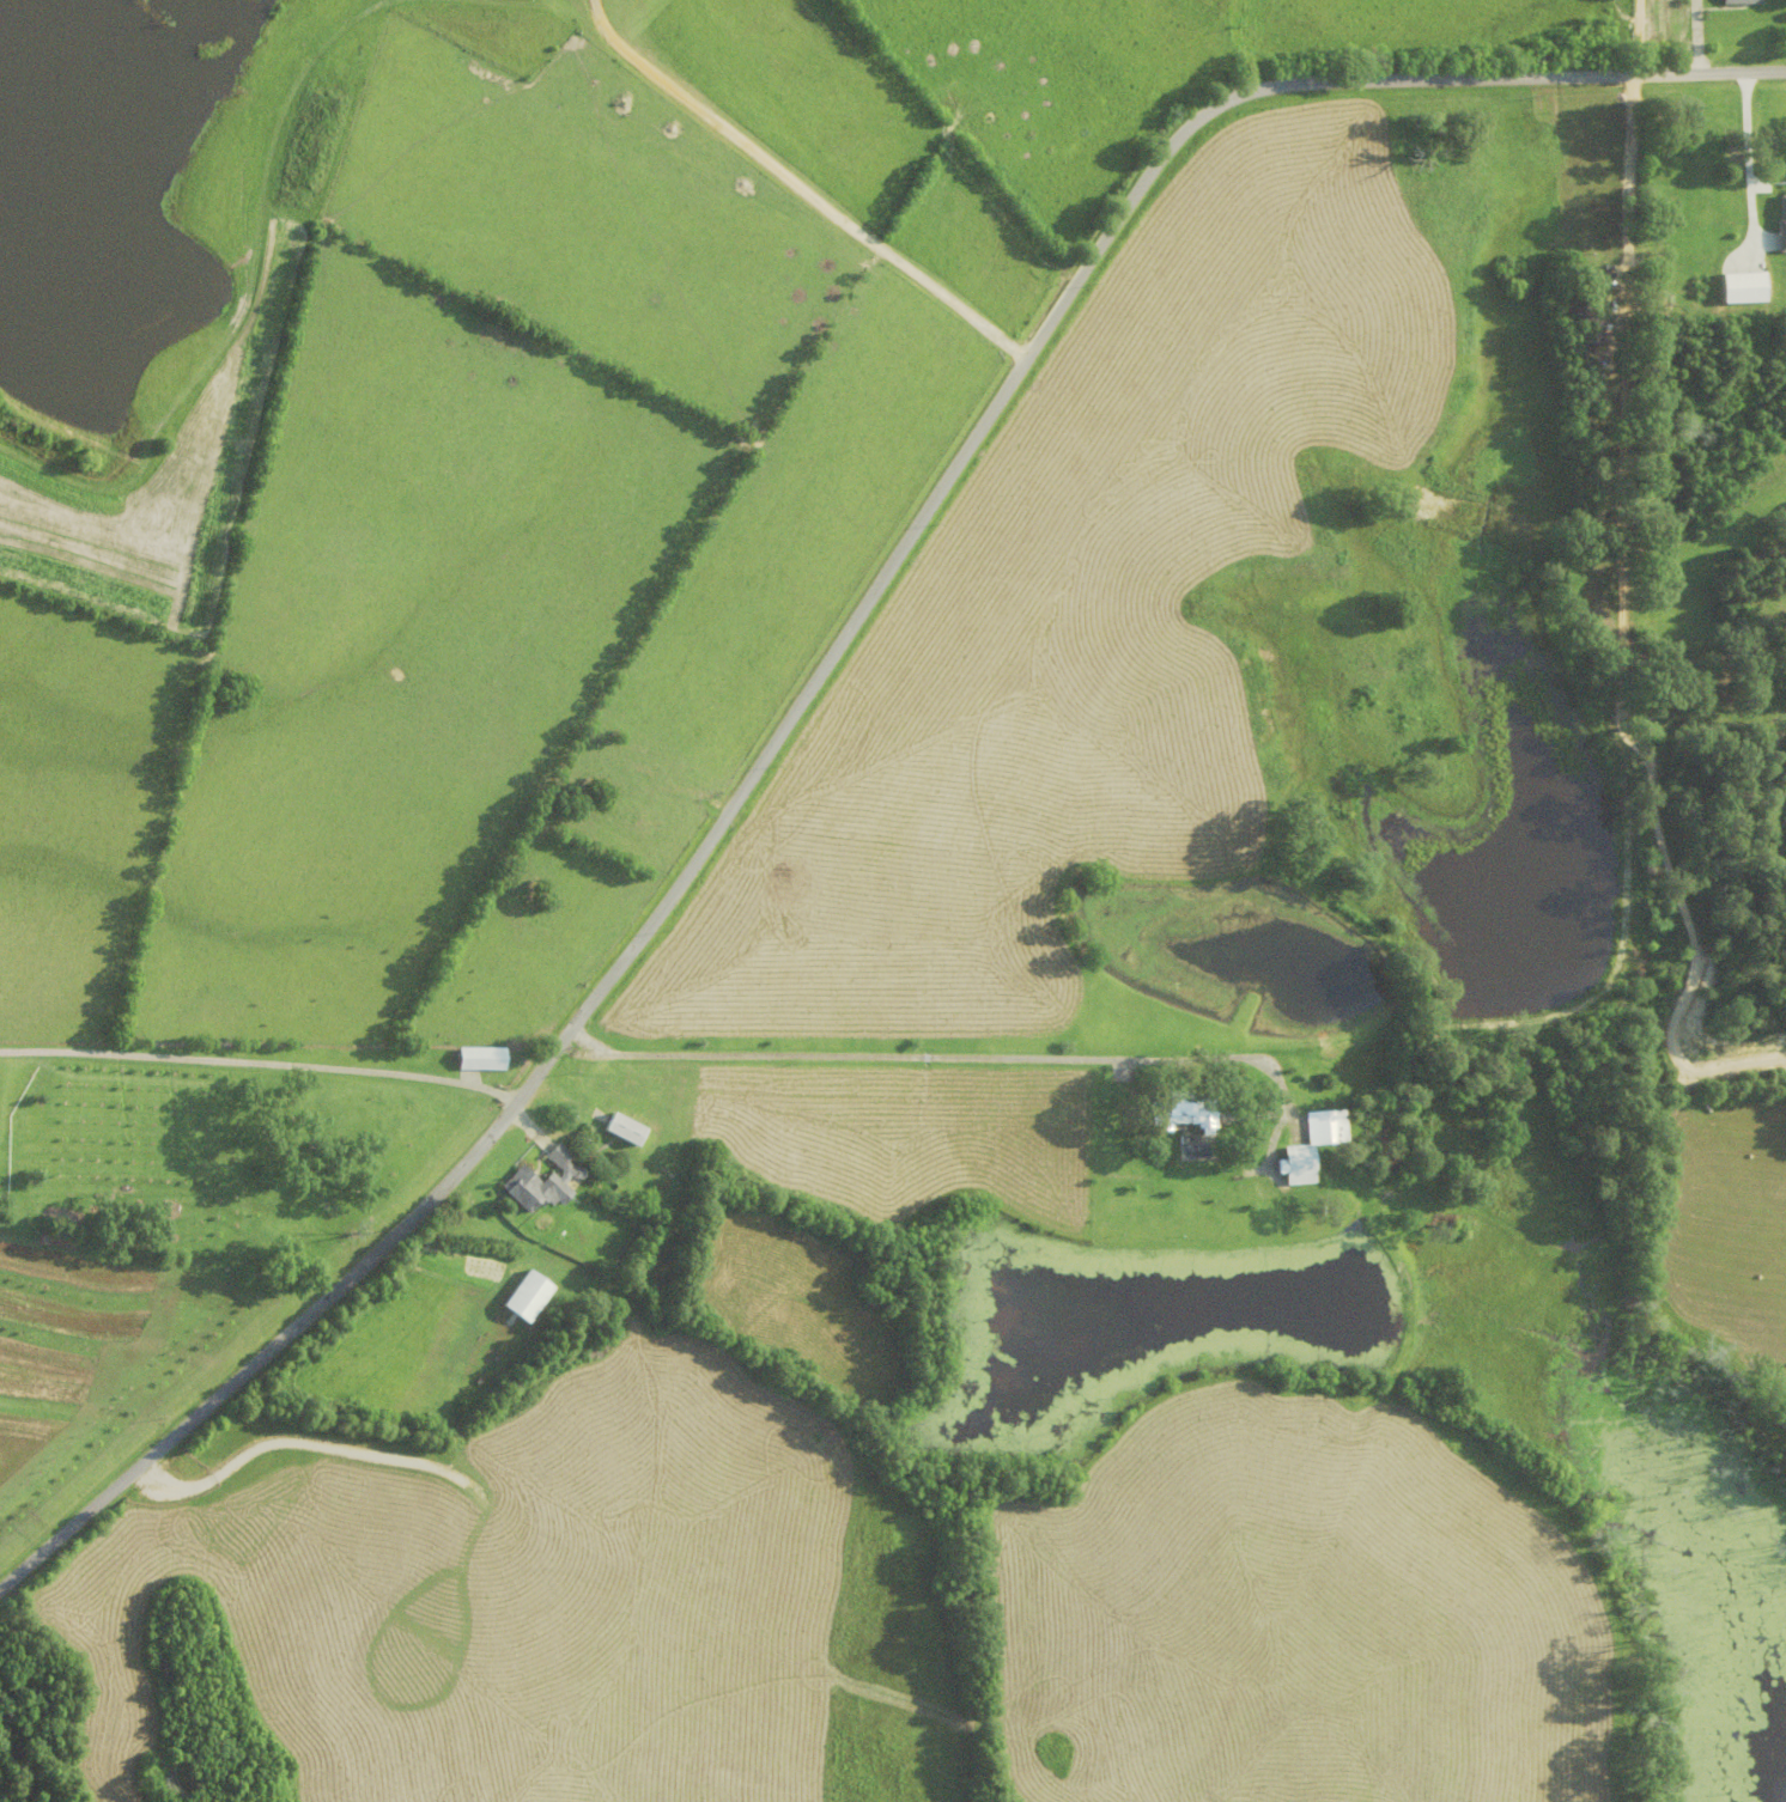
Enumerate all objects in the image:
building: (1742, 2)
road: (1635, 36)
road: (1756, 151)
road: (796, 188)
road: (831, 657)
building: (484, 1060)
road: (260, 1063)
road: (952, 1063)
building: (1192, 1109)
building: (628, 1131)
building: (1313, 1149)
building: (543, 1183)
building: (530, 1298)

